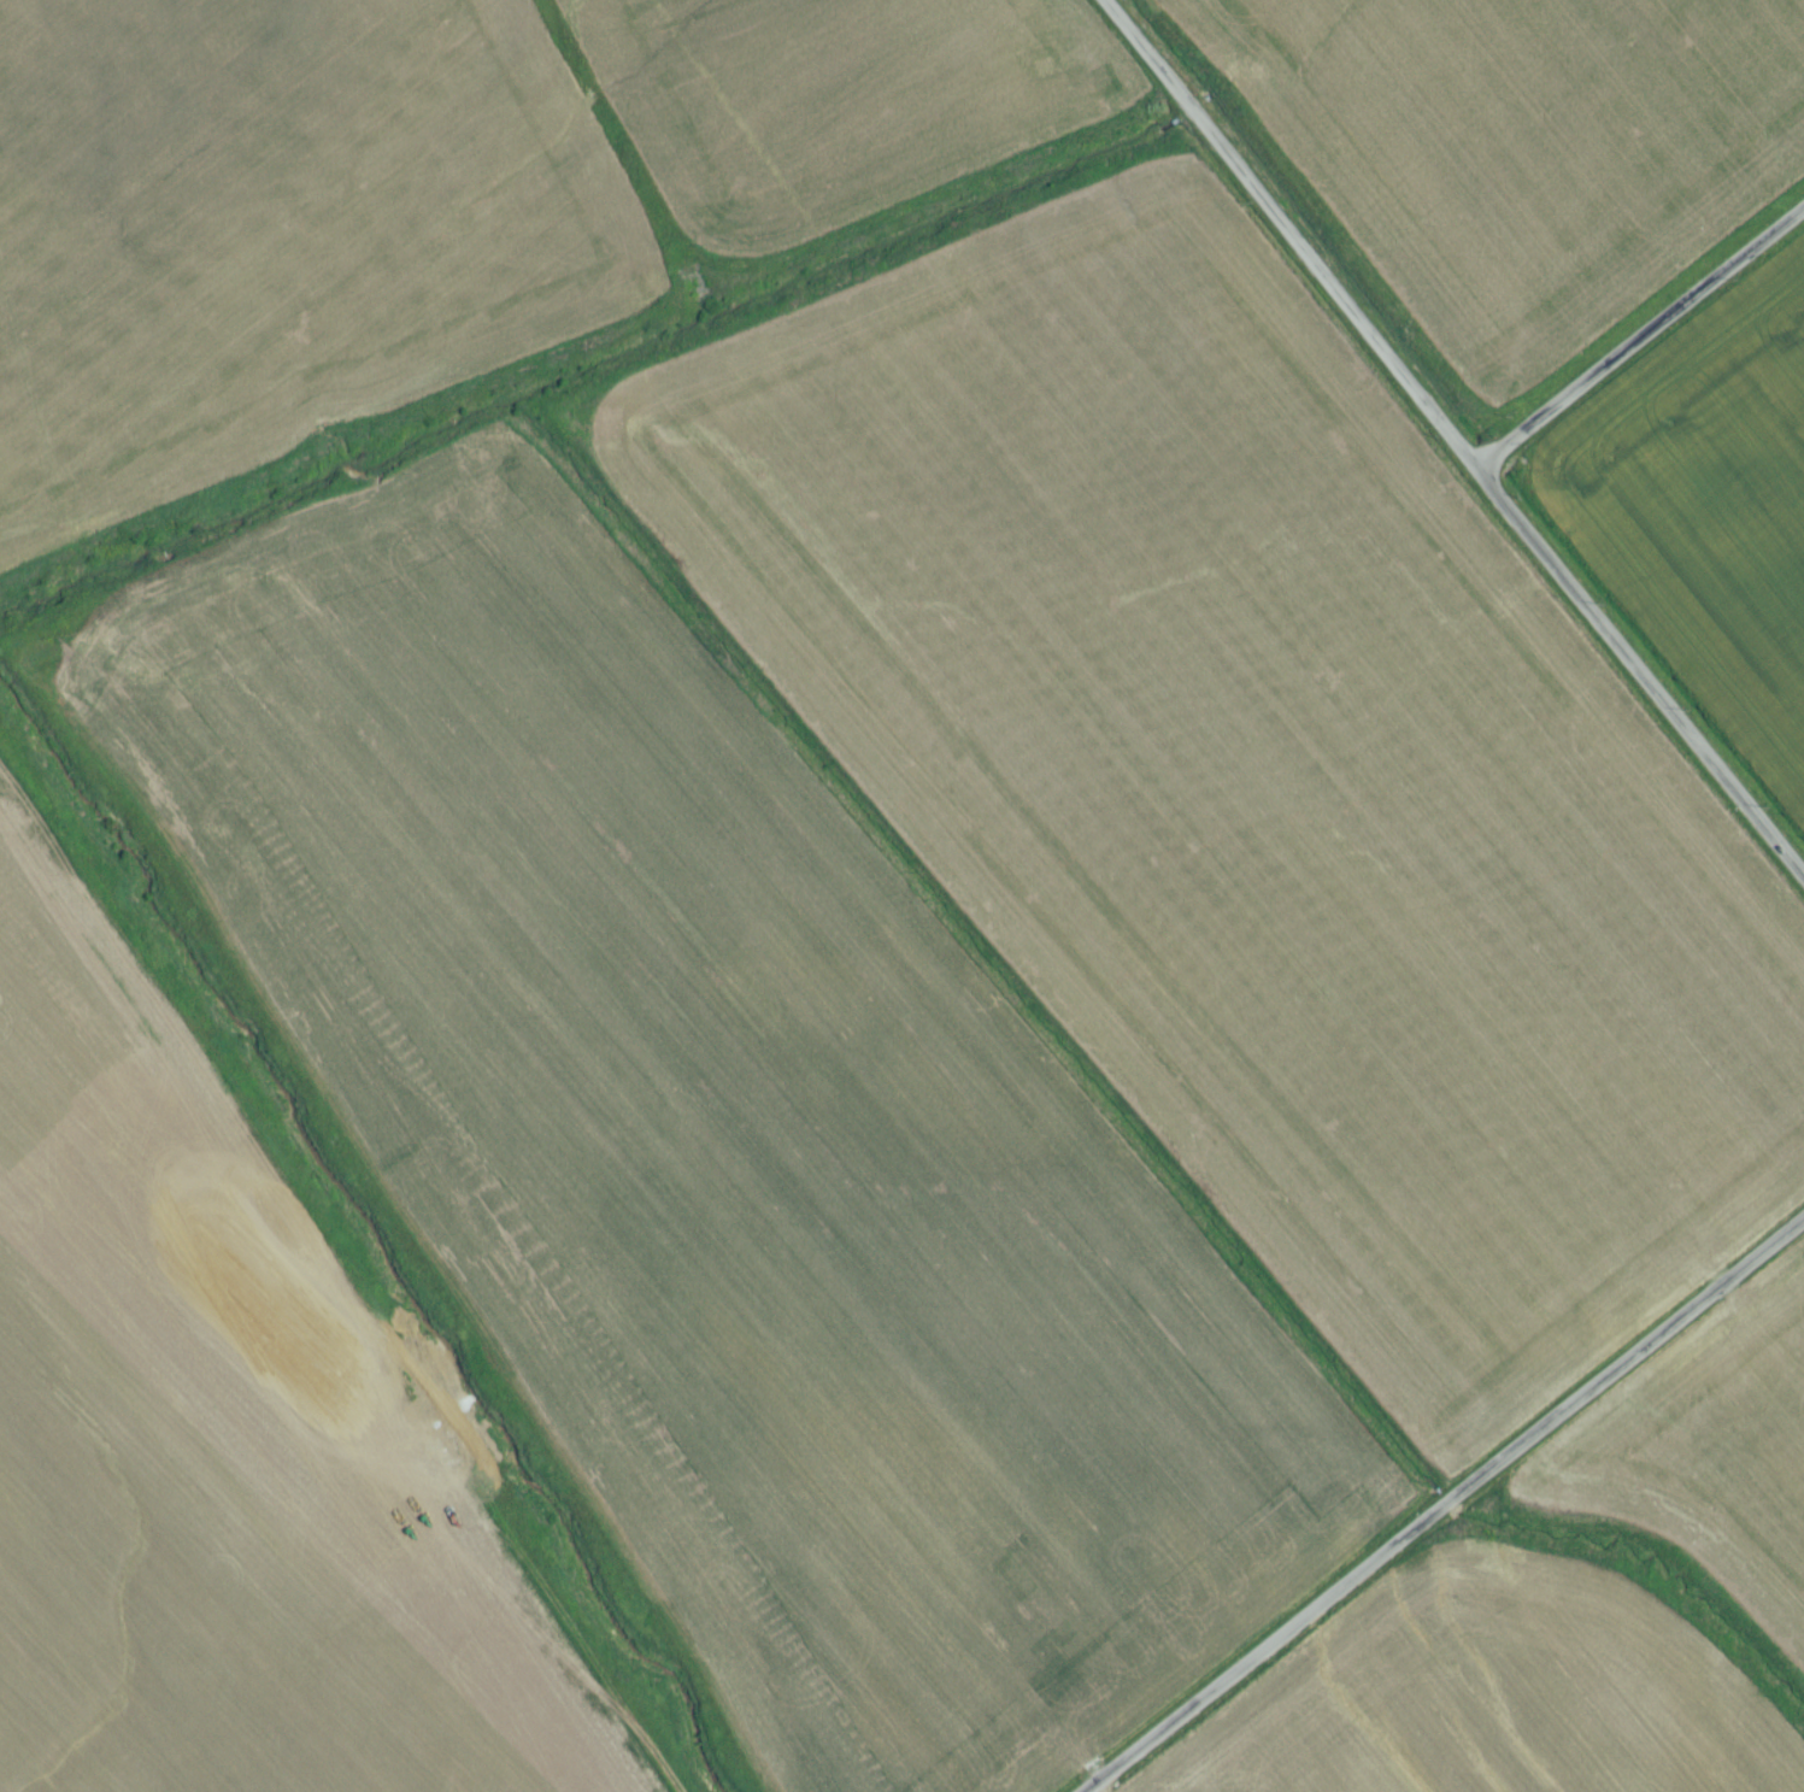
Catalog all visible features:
road: (1643, 351)
road: (1455, 445)
road: (1444, 1499)

